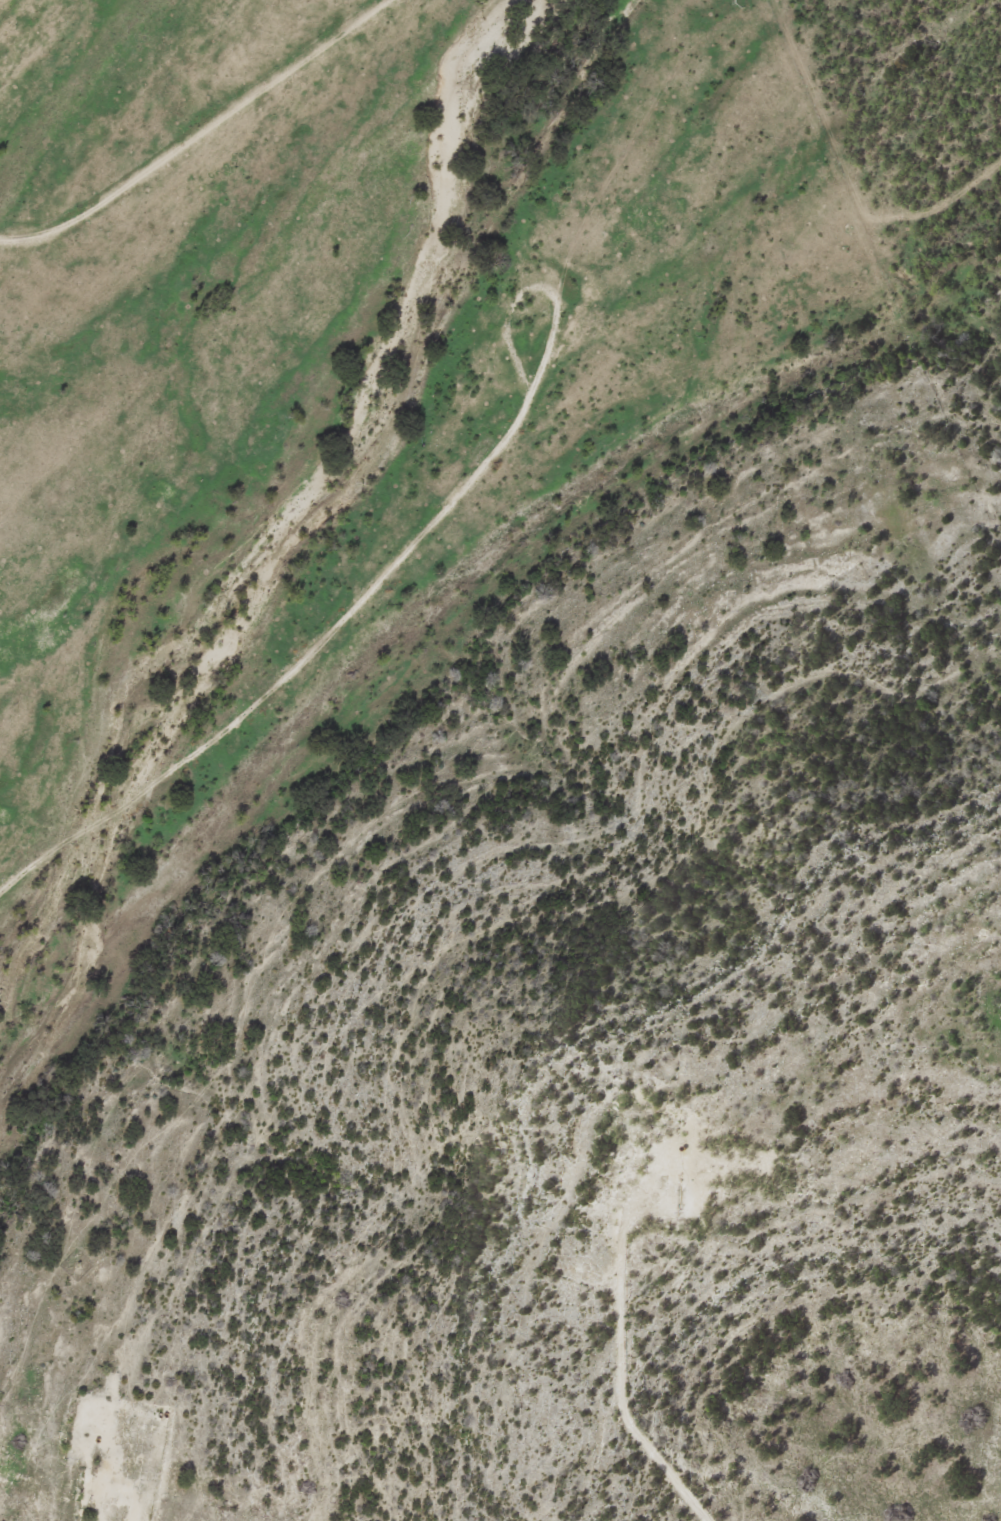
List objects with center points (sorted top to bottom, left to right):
river: (378, 409)
road: (288, 670)
river: (69, 940)

